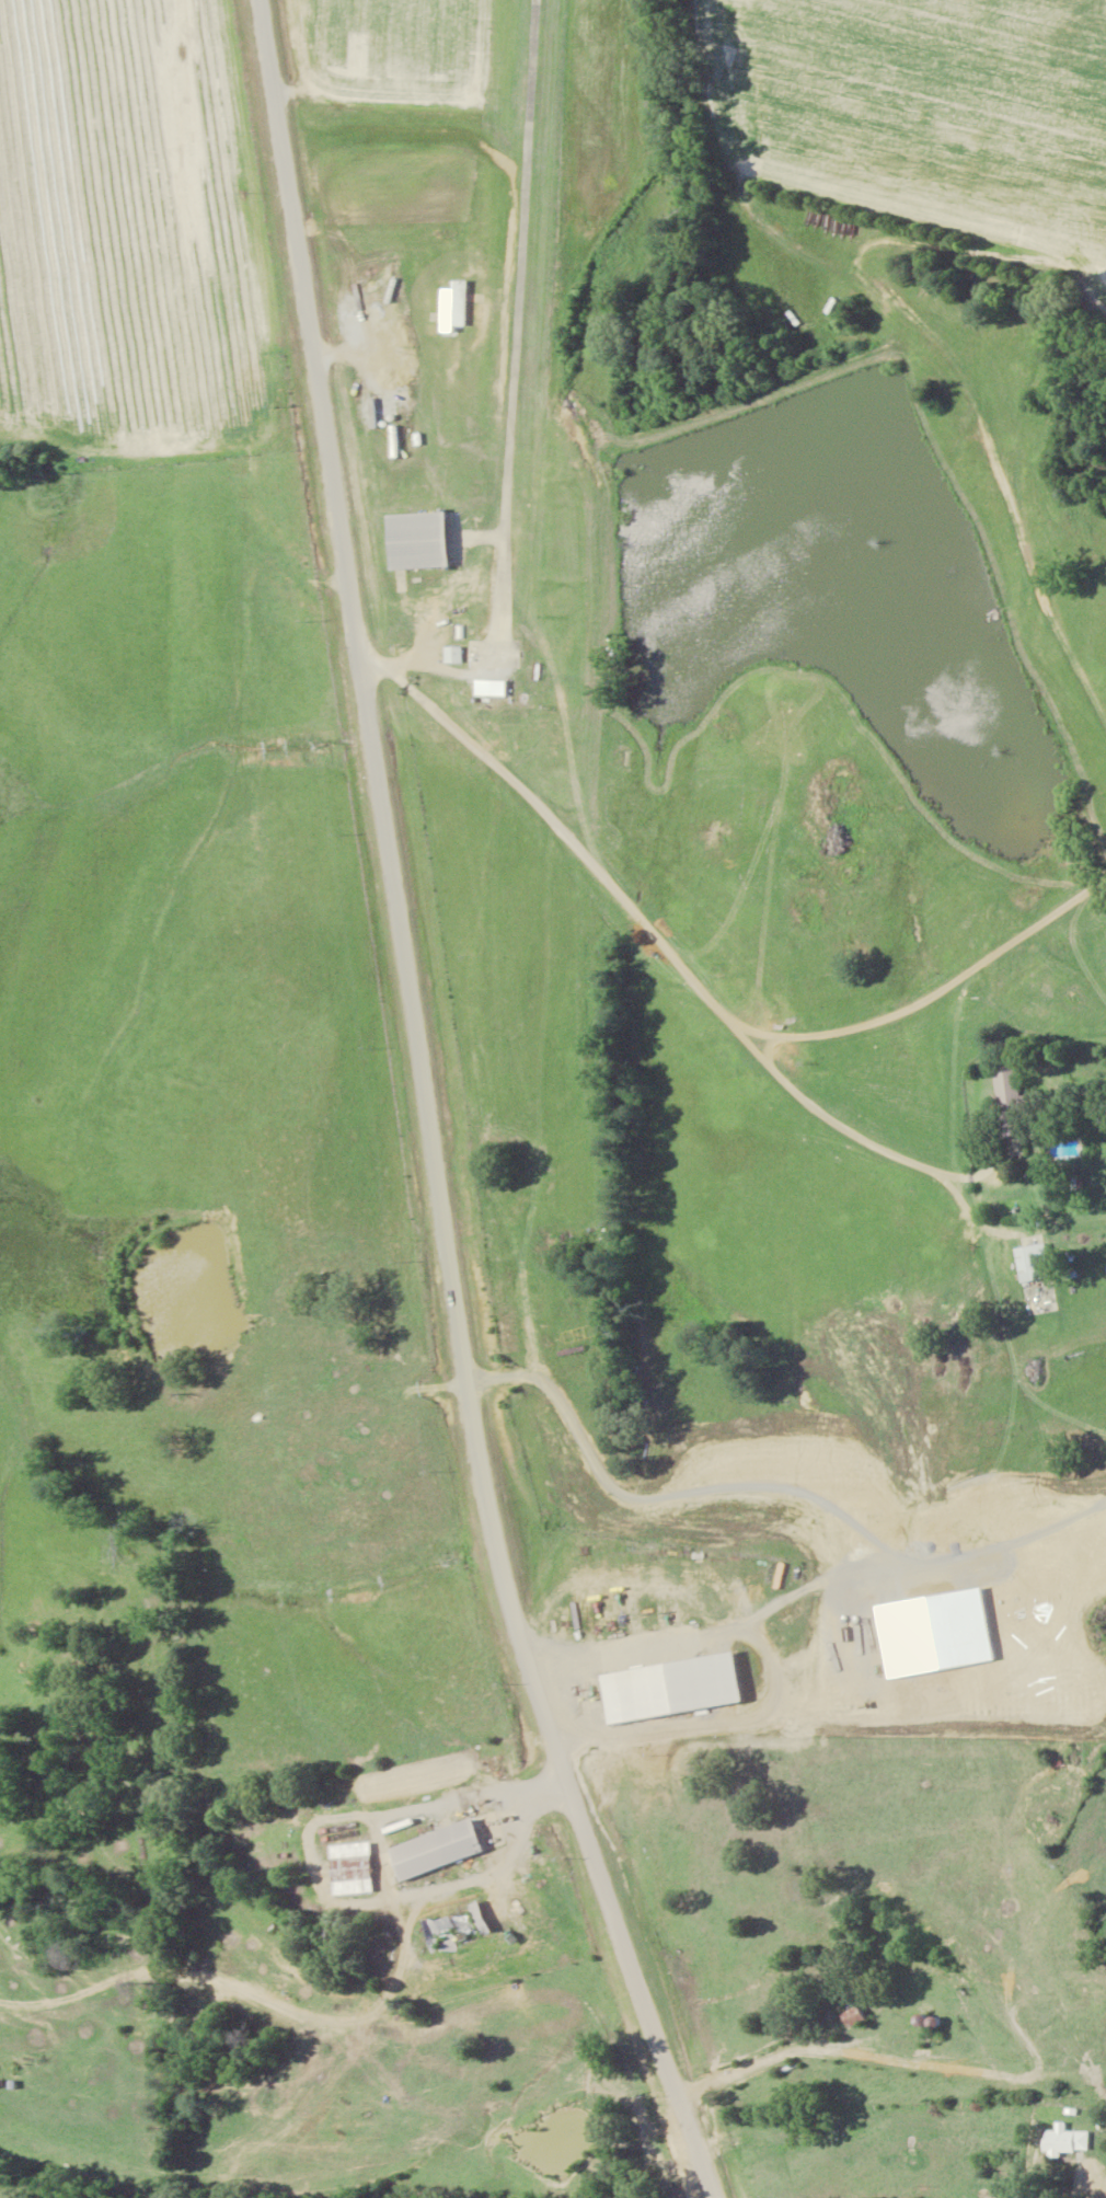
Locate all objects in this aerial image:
airport runway: (530, 265)
building: (450, 308)
airport hangar: (431, 536)
building: (431, 536)
airport taxiway: (514, 554)
building: (1003, 1086)
road: (440, 1115)
building: (1029, 1263)
building: (1049, 1816)
building: (429, 1852)
building: (346, 1869)
building: (448, 1930)
building: (1063, 2143)

